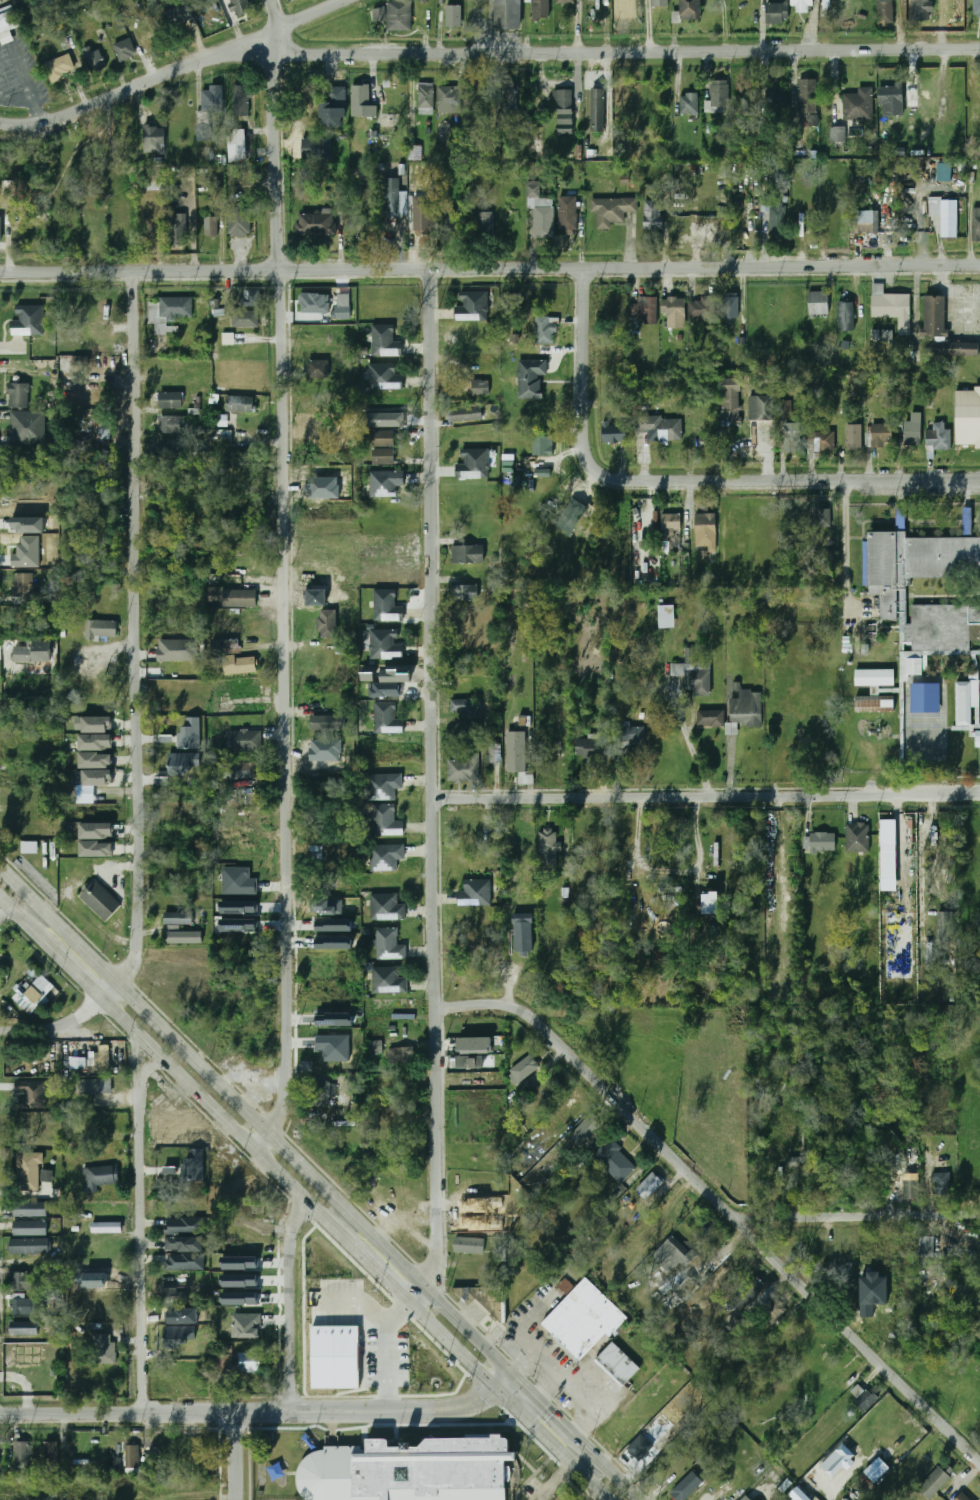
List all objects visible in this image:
building: (565, 2)
building: (660, 3)
building: (238, 5)
building: (800, 6)
building: (976, 8)
building: (540, 9)
building: (690, 10)
building: (922, 10)
building: (885, 12)
building: (777, 13)
building: (508, 14)
building: (177, 15)
building: (399, 16)
building: (453, 16)
building: (8, 19)
building: (122, 22)
building: (124, 49)
road: (594, 51)
building: (94, 59)
building: (59, 68)
road: (177, 72)
parking lot: (22, 75)
building: (719, 94)
building: (807, 97)
building: (425, 98)
road: (29, 100)
building: (447, 100)
building: (773, 100)
building: (241, 101)
building: (892, 101)
building: (361, 102)
building: (510, 102)
building: (690, 103)
building: (858, 105)
building: (333, 108)
building: (598, 111)
building: (207, 112)
building: (563, 112)
building: (813, 120)
building: (443, 132)
building: (837, 134)
building: (154, 137)
building: (236, 145)
building: (315, 148)
building: (63, 156)
building: (945, 172)
building: (781, 182)
building: (151, 183)
building: (9, 187)
building: (392, 197)
building: (540, 211)
building: (611, 211)
building: (567, 214)
building: (653, 215)
building: (422, 218)
building: (774, 218)
building: (948, 219)
building: (238, 221)
building: (864, 222)
building: (315, 224)
building: (485, 224)
building: (976, 224)
building: (210, 226)
building: (0, 229)
building: (177, 229)
building: (362, 230)
road: (489, 268)
building: (249, 298)
building: (818, 303)
building: (315, 304)
building: (342, 306)
building: (172, 307)
building: (473, 307)
building: (729, 307)
building: (701, 308)
building: (893, 309)
building: (646, 310)
building: (674, 311)
building: (846, 316)
building: (934, 316)
building: (245, 319)
building: (29, 320)
building: (545, 331)
building: (887, 335)
building: (228, 338)
building: (385, 341)
building: (89, 348)
building: (953, 349)
building: (81, 361)
building: (317, 370)
building: (385, 377)
building: (531, 379)
building: (480, 388)
building: (115, 394)
building: (17, 395)
building: (170, 400)
building: (730, 401)
building: (84, 402)
building: (240, 404)
building: (766, 407)
building: (784, 408)
building: (465, 415)
building: (967, 418)
building: (386, 419)
building: (223, 420)
building: (170, 425)
building: (26, 427)
building: (659, 428)
building: (913, 429)
building: (97, 432)
building: (615, 433)
building: (881, 436)
building: (792, 437)
building: (853, 437)
building: (223, 438)
building: (938, 438)
building: (383, 439)
building: (820, 441)
building: (706, 442)
building: (542, 445)
building: (169, 447)
building: (383, 456)
building: (474, 464)
building: (544, 472)
road: (685, 480)
building: (384, 484)
building: (572, 516)
building: (820, 517)
building: (669, 524)
building: (705, 531)
road: (844, 547)
building: (27, 552)
building: (467, 555)
building: (919, 556)
road: (282, 578)
building: (23, 585)
building: (464, 593)
building: (239, 598)
building: (387, 606)
building: (666, 617)
building: (328, 624)
building: (943, 626)
building: (103, 628)
road: (134, 629)
building: (385, 645)
building: (176, 650)
building: (34, 652)
building: (239, 665)
building: (910, 666)
building: (693, 677)
building: (874, 678)
building: (386, 689)
building: (924, 698)
building: (963, 703)
building: (874, 704)
building: (461, 706)
building: (745, 710)
building: (387, 718)
building: (710, 719)
building: (329, 723)
building: (96, 725)
building: (190, 735)
building: (631, 735)
building: (978, 739)
building: (244, 740)
building: (95, 743)
building: (590, 747)
building: (494, 753)
building: (517, 755)
building: (95, 760)
building: (183, 763)
building: (464, 768)
building: (231, 770)
building: (97, 778)
building: (383, 786)
road: (435, 789)
road: (708, 796)
building: (386, 821)
building: (96, 831)
building: (857, 837)
building: (822, 842)
building: (29, 847)
building: (546, 848)
building: (95, 849)
building: (889, 849)
building: (385, 857)
building: (238, 881)
building: (474, 893)
road: (3, 901)
building: (100, 901)
building: (711, 902)
road: (3, 906)
building: (239, 907)
building: (387, 907)
building: (178, 918)
building: (333, 924)
building: (239, 925)
building: (946, 926)
building: (524, 936)
building: (184, 937)
building: (334, 943)
building: (388, 944)
road: (52, 949)
building: (388, 980)
building: (33, 994)
building: (334, 1019)
road: (66, 1024)
building: (474, 1045)
building: (334, 1047)
building: (375, 1047)
road: (135, 1054)
building: (397, 1056)
building: (101, 1059)
building: (470, 1062)
road: (147, 1067)
building: (524, 1068)
building: (94, 1087)
building: (32, 1094)
building: (319, 1094)
road: (257, 1119)
building: (586, 1129)
building: (614, 1161)
building: (194, 1165)
building: (28, 1172)
building: (46, 1175)
building: (98, 1177)
building: (942, 1183)
building: (649, 1185)
building: (909, 1190)
road: (296, 1194)
road: (722, 1205)
building: (29, 1209)
road: (857, 1216)
building: (185, 1225)
building: (107, 1227)
building: (30, 1228)
building: (183, 1244)
road: (138, 1245)
building: (29, 1246)
building: (470, 1246)
building: (925, 1246)
building: (670, 1253)
building: (185, 1261)
building: (240, 1263)
building: (240, 1280)
building: (22, 1281)
building: (565, 1285)
building: (747, 1292)
building: (172, 1294)
building: (240, 1298)
building: (486, 1299)
road: (286, 1305)
building: (24, 1306)
building: (774, 1311)
building: (172, 1316)
building: (584, 1319)
building: (246, 1325)
building: (736, 1325)
building: (22, 1328)
building: (178, 1336)
building: (102, 1349)
road: (537, 1349)
road: (387, 1352)
building: (336, 1357)
building: (247, 1363)
road: (525, 1363)
building: (617, 1364)
traffic signals: (473, 1366)
traffic signals: (523, 1366)
road: (505, 1383)
building: (862, 1397)
traffic signals: (483, 1401)
road: (546, 1408)
road: (367, 1412)
traffic signals: (550, 1412)
road: (592, 1412)
road: (116, 1413)
road: (552, 1445)
building: (50, 1455)
building: (23, 1456)
building: (132, 1456)
road: (233, 1456)
building: (838, 1461)
building: (921, 1465)
building: (877, 1469)
building: (412, 1471)
road: (610, 1471)
building: (938, 1479)
road: (550, 1481)
building: (686, 1486)
building: (799, 1494)
building: (960, 1496)
building: (745, 1498)

